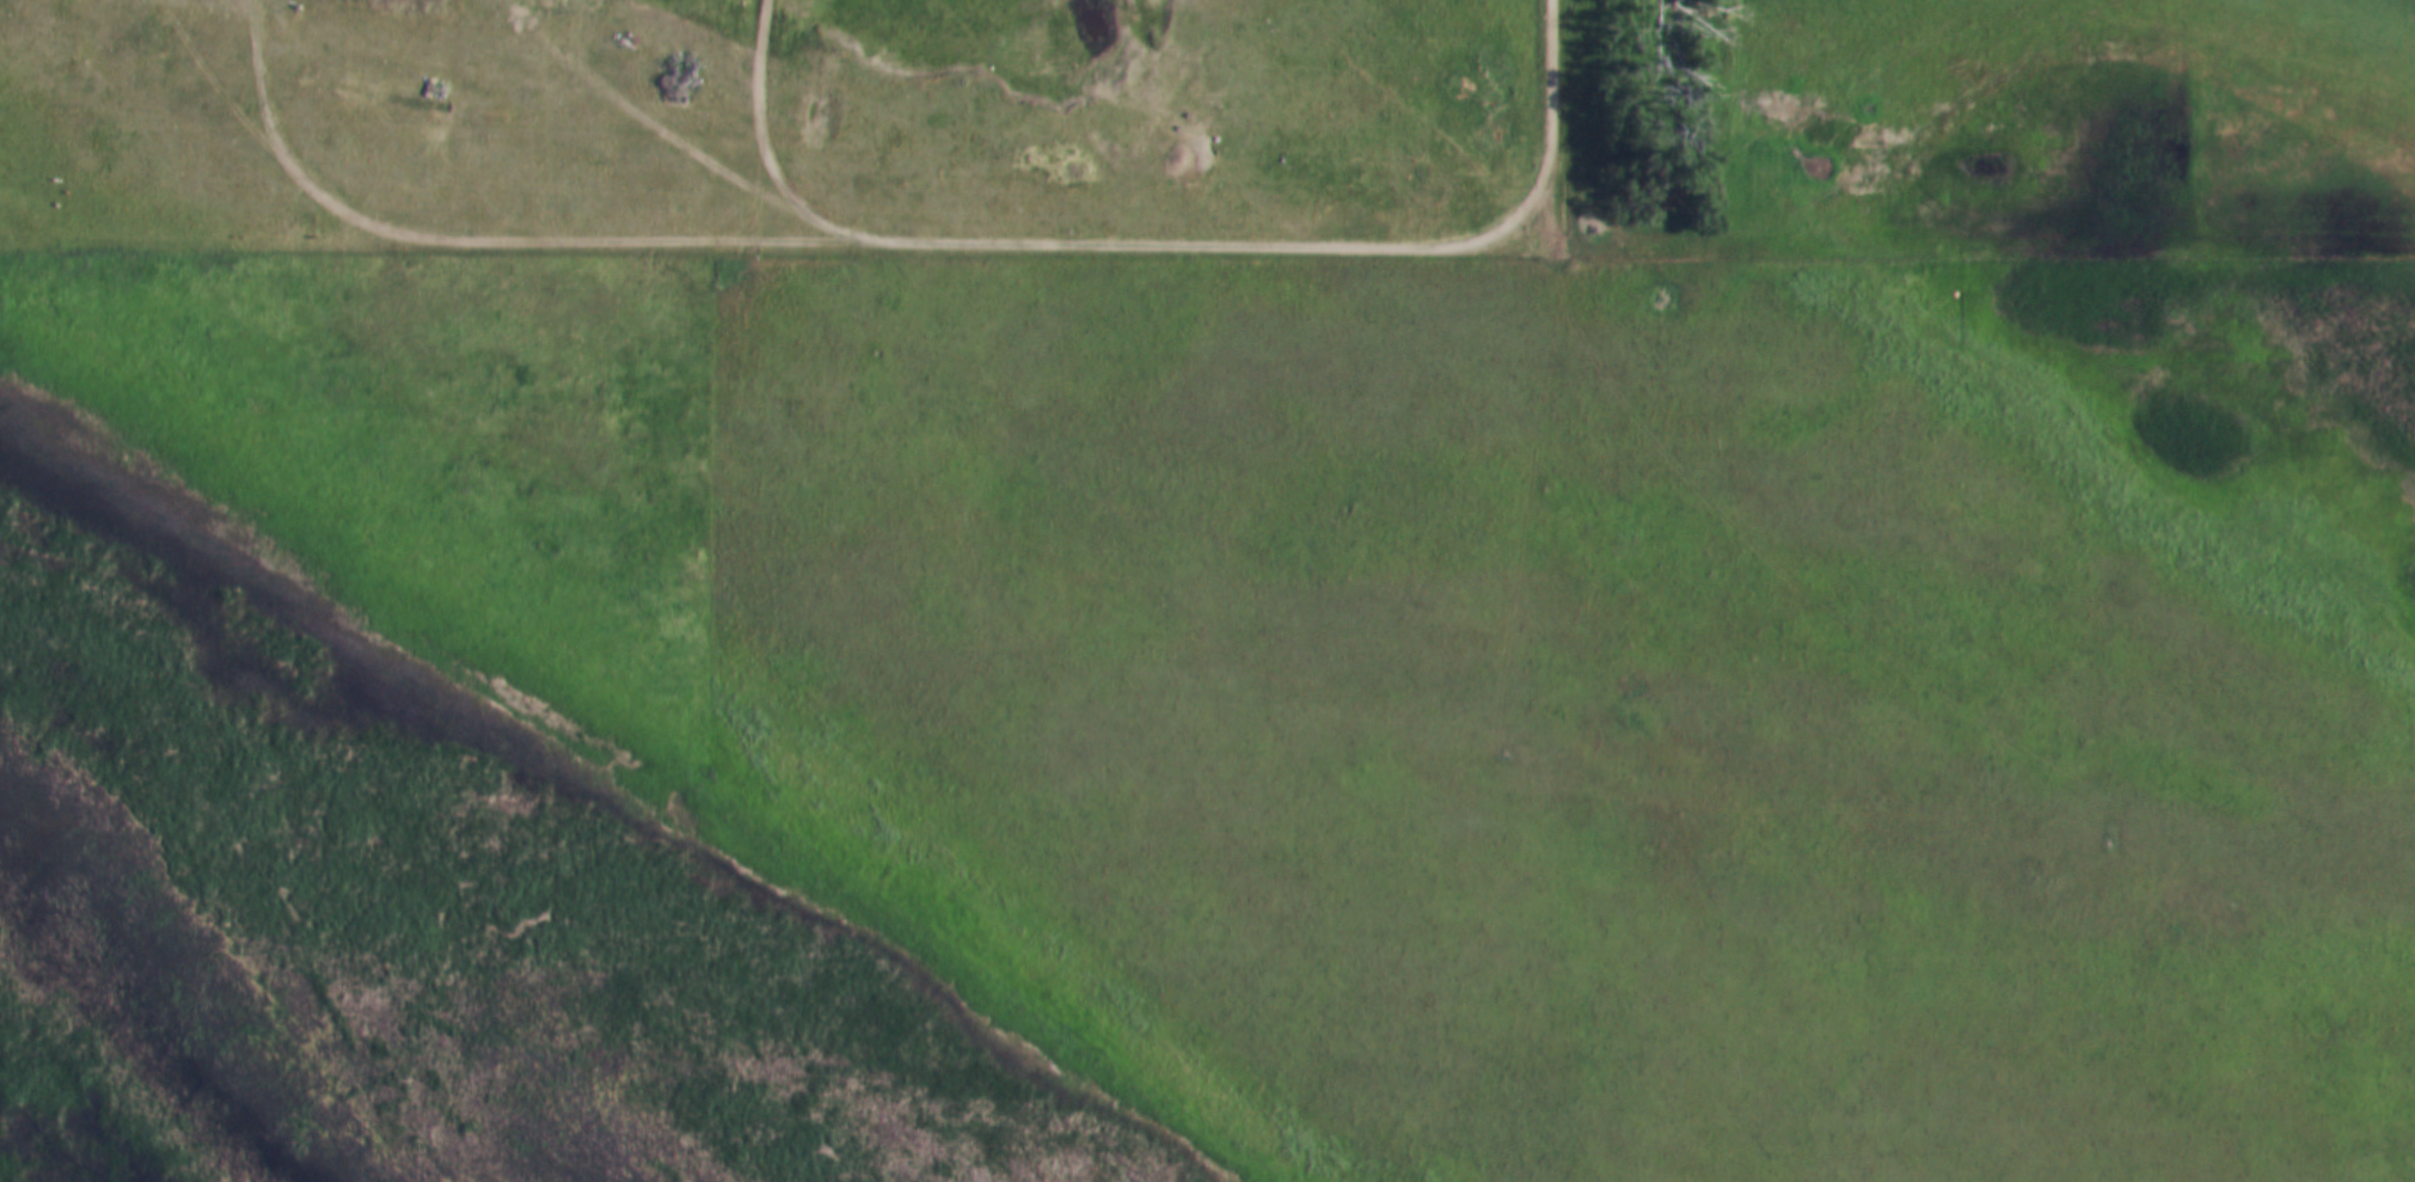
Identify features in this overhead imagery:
building: (540, 10)
quarry: (709, 109)
road: (1097, 240)

